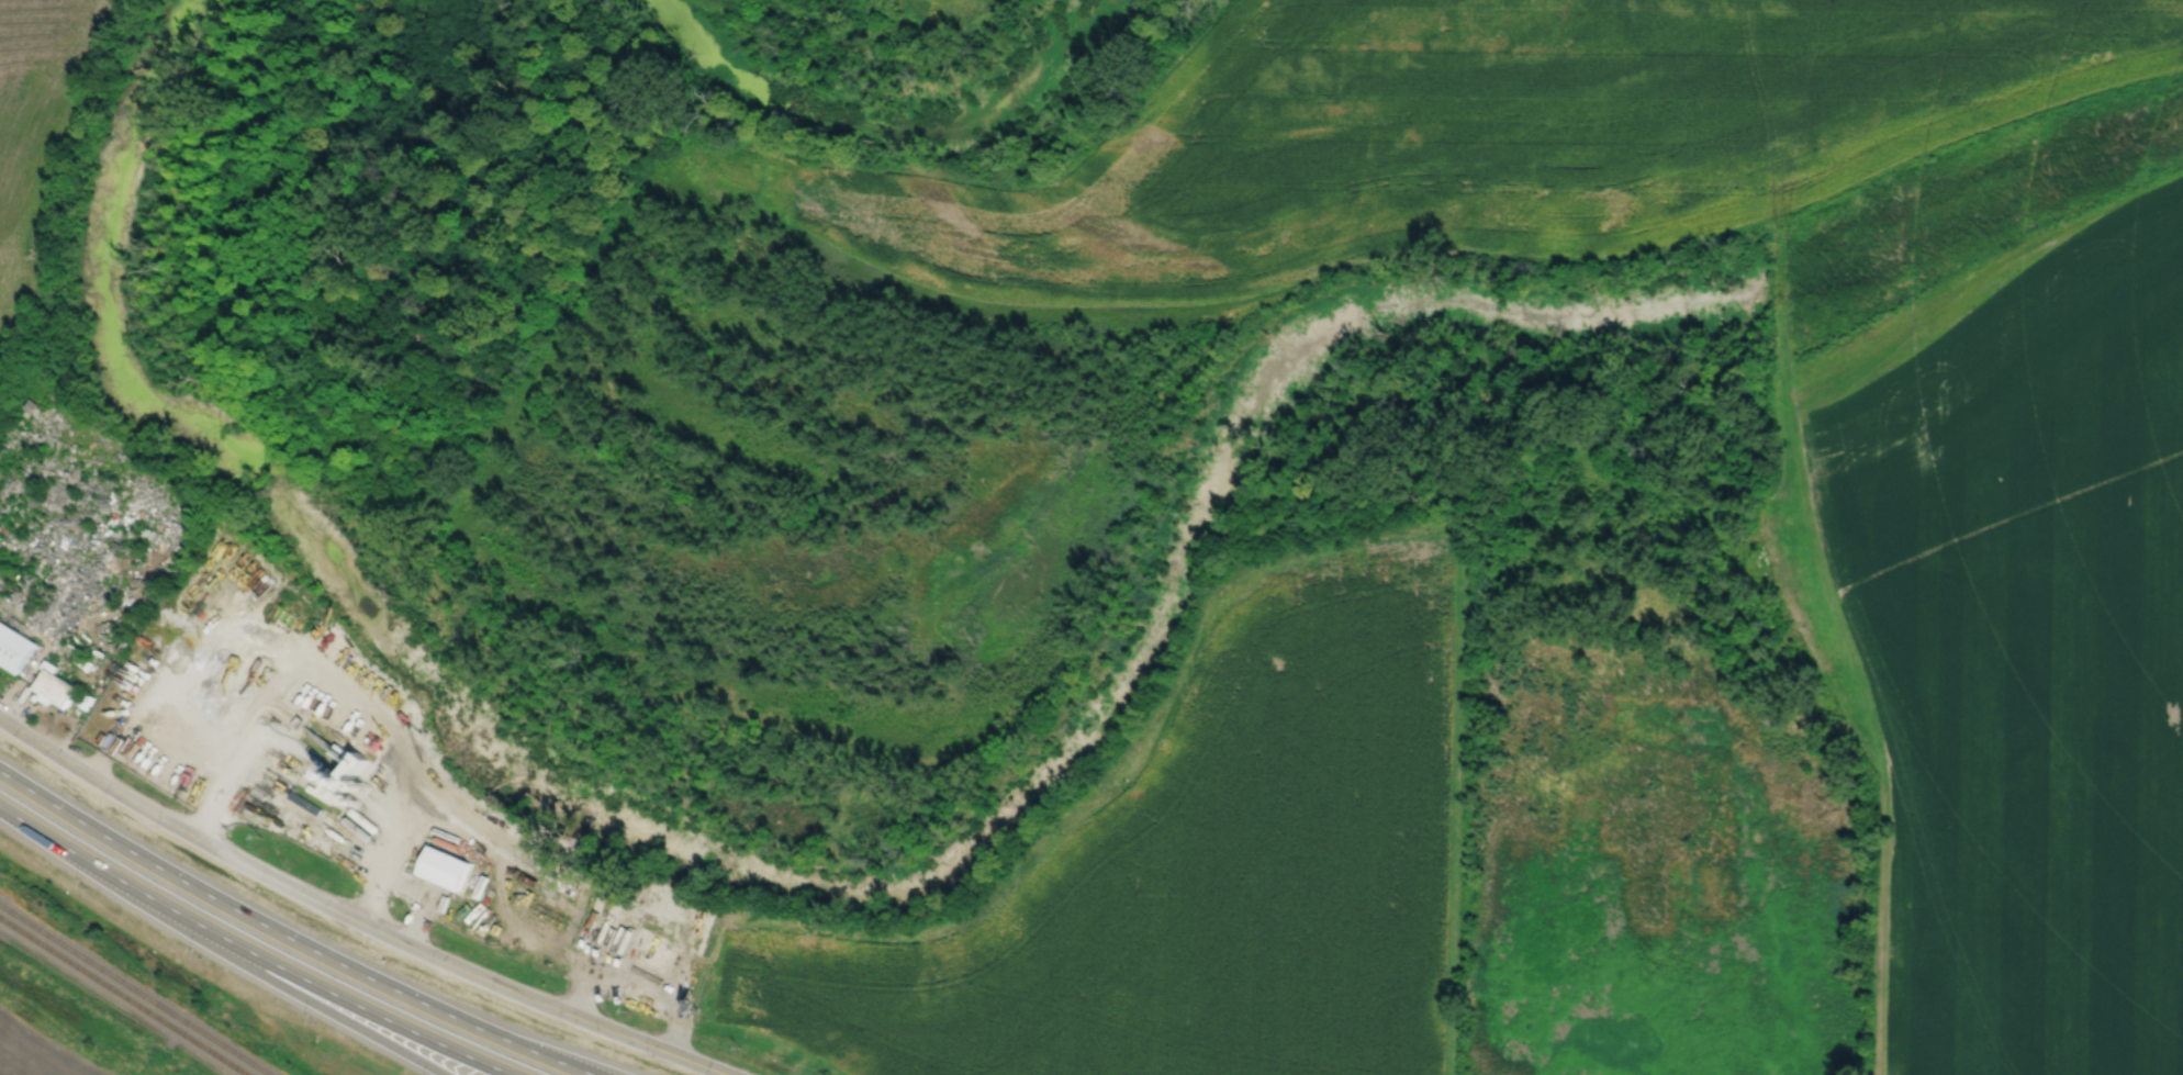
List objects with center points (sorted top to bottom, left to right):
crop: (2019, 643)
building: (13, 648)
building: (48, 668)
building: (53, 688)
building: (40, 699)
building: (82, 701)
building: (444, 866)
road: (99, 867)
crop: (1198, 872)
road: (354, 917)
road: (289, 937)
building: (651, 948)
railway: (134, 989)
building: (645, 993)
railway: (123, 995)
road: (355, 1004)
road: (320, 1005)

